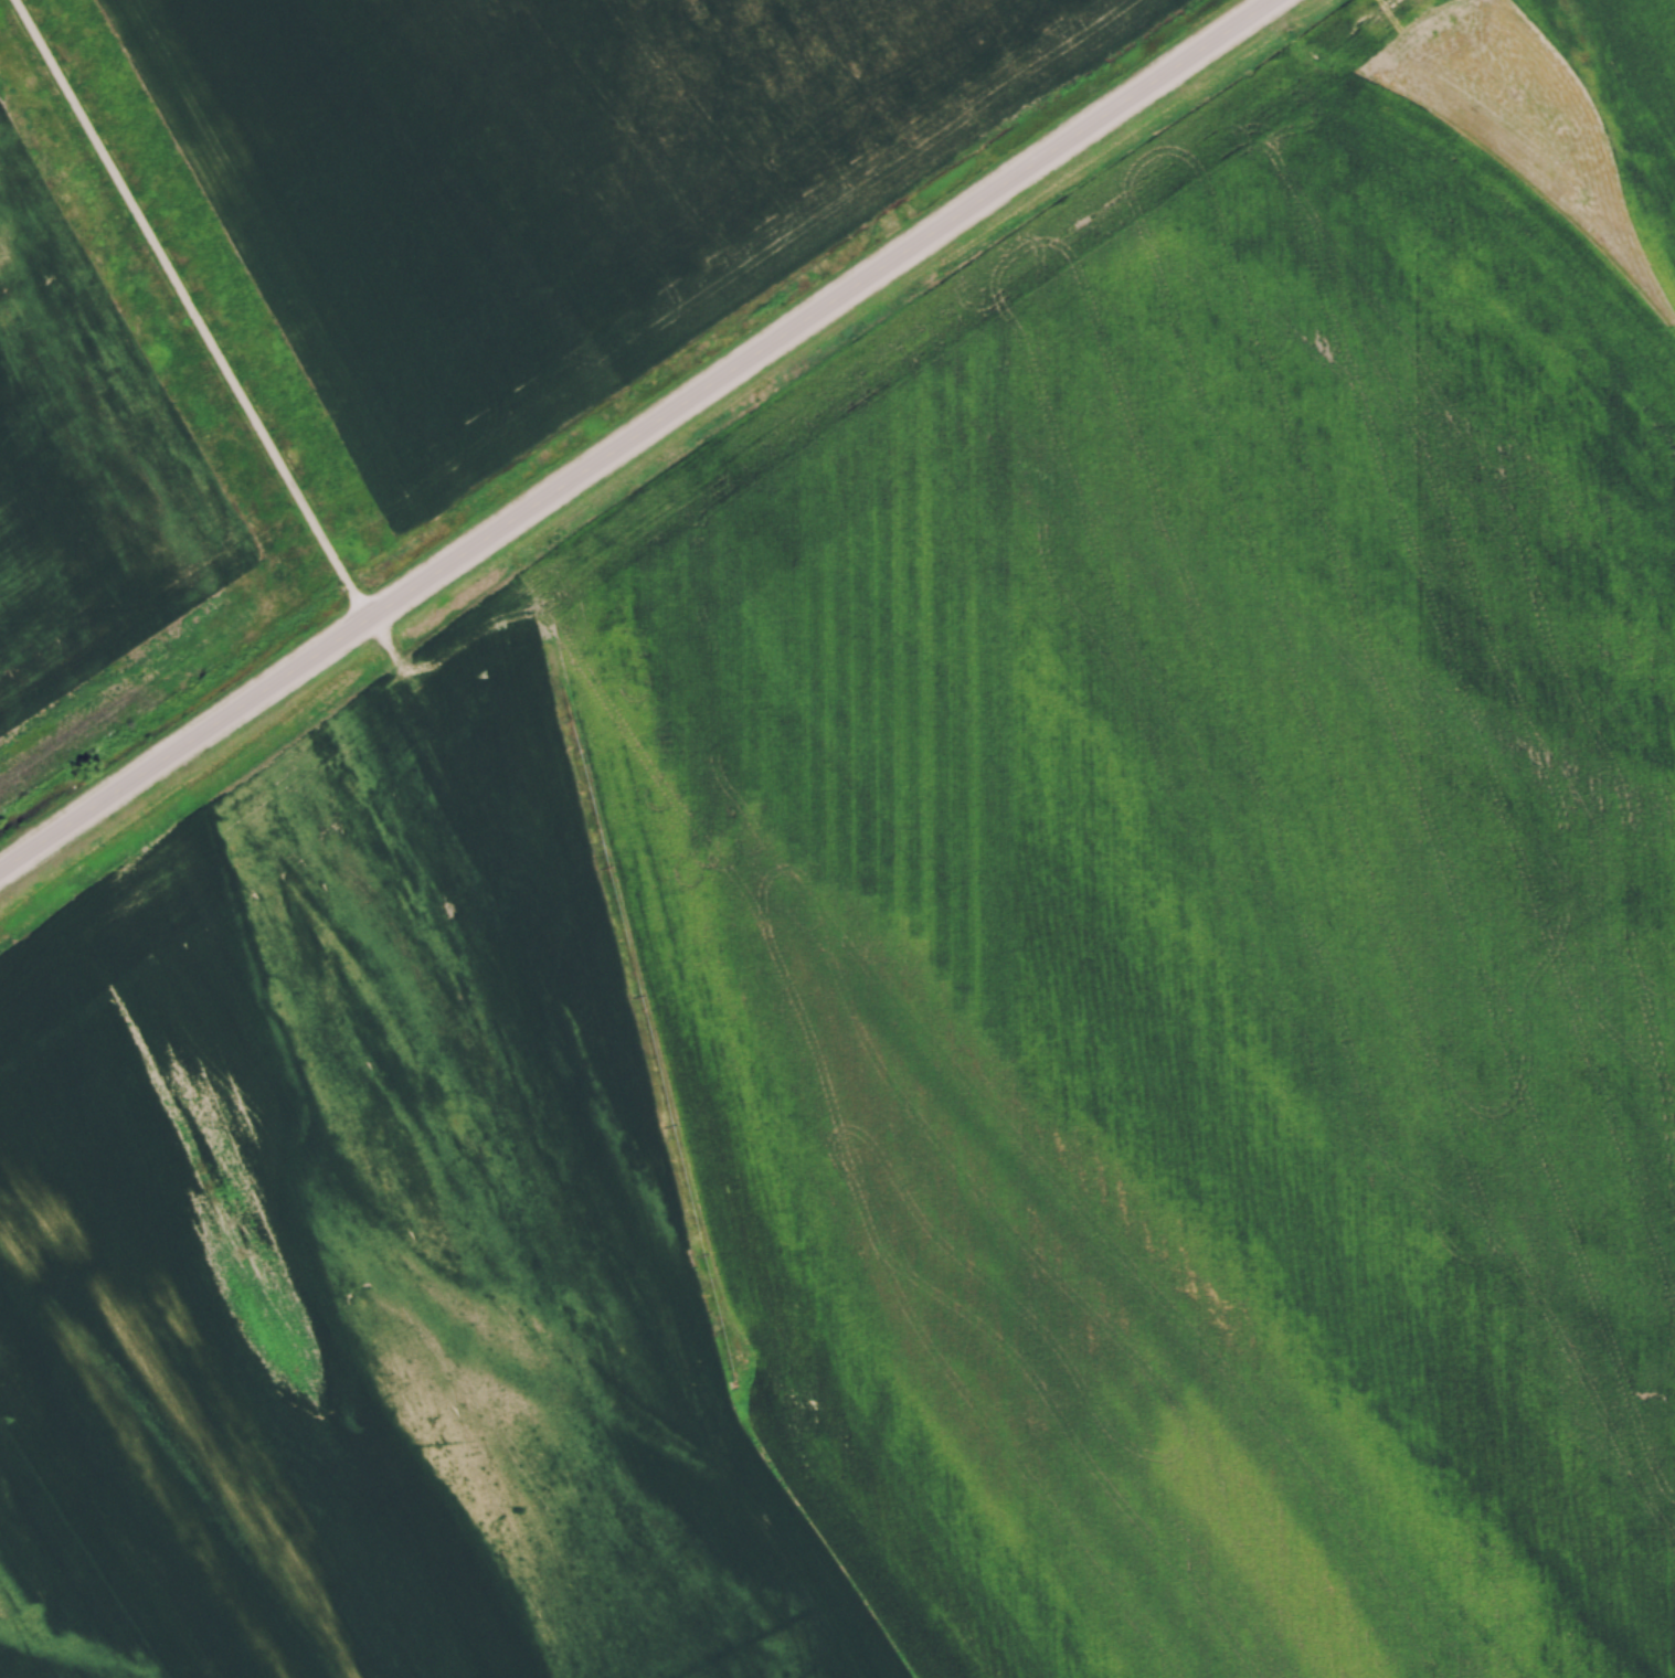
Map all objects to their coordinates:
crop: (532, 178)
road: (190, 310)
road: (638, 435)
crop: (89, 459)

